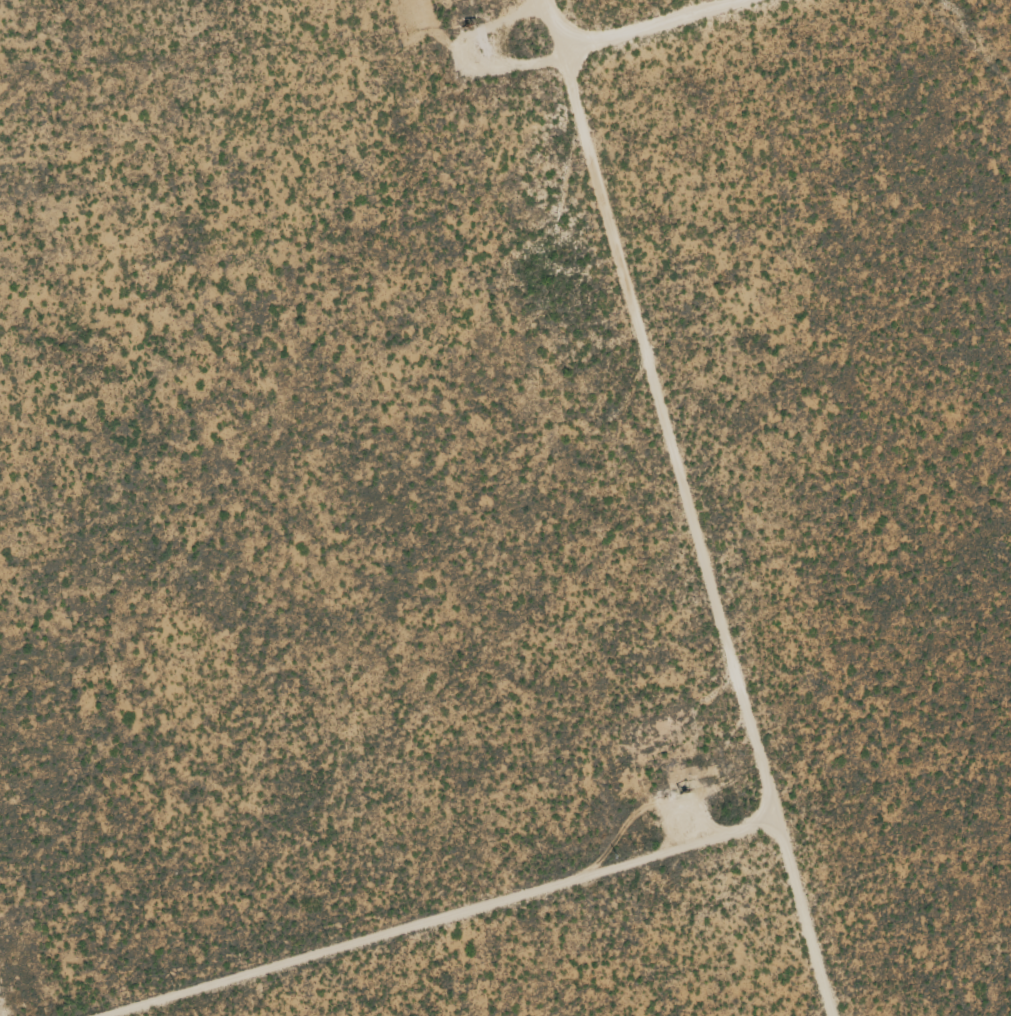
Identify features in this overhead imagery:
road: (657, 22)
road: (771, 759)
road: (6, 1012)

